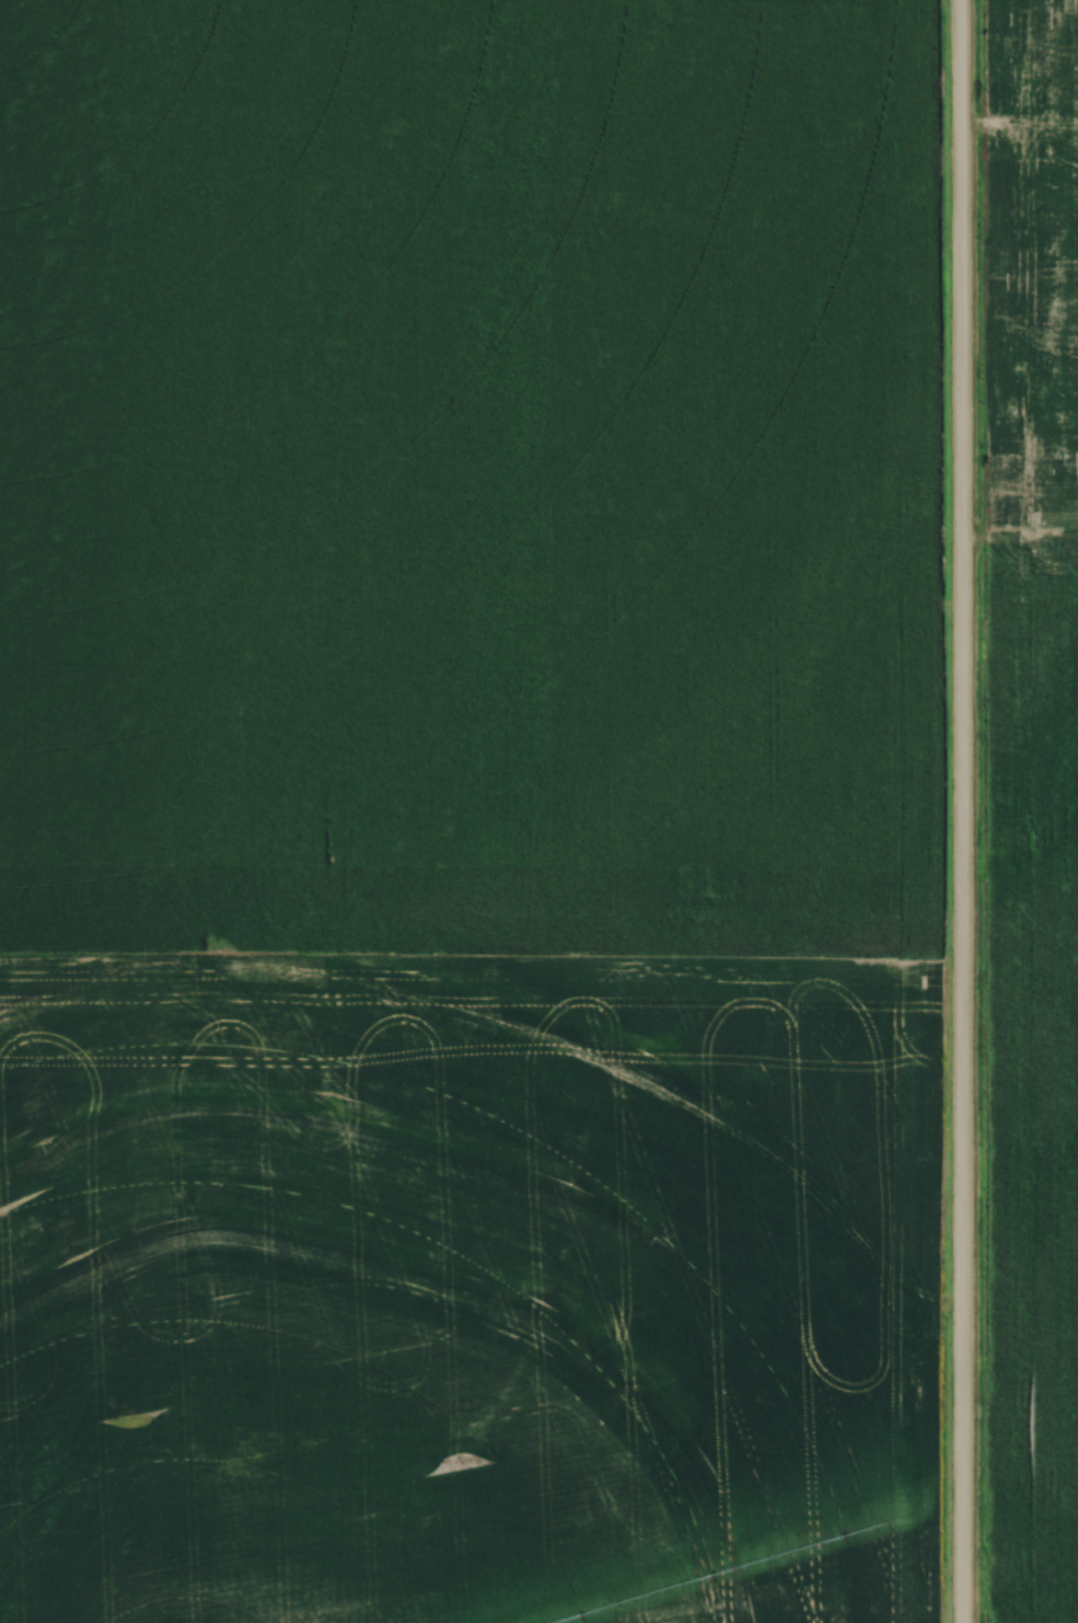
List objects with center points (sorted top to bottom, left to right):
road: (1017, 130)
road: (960, 810)

